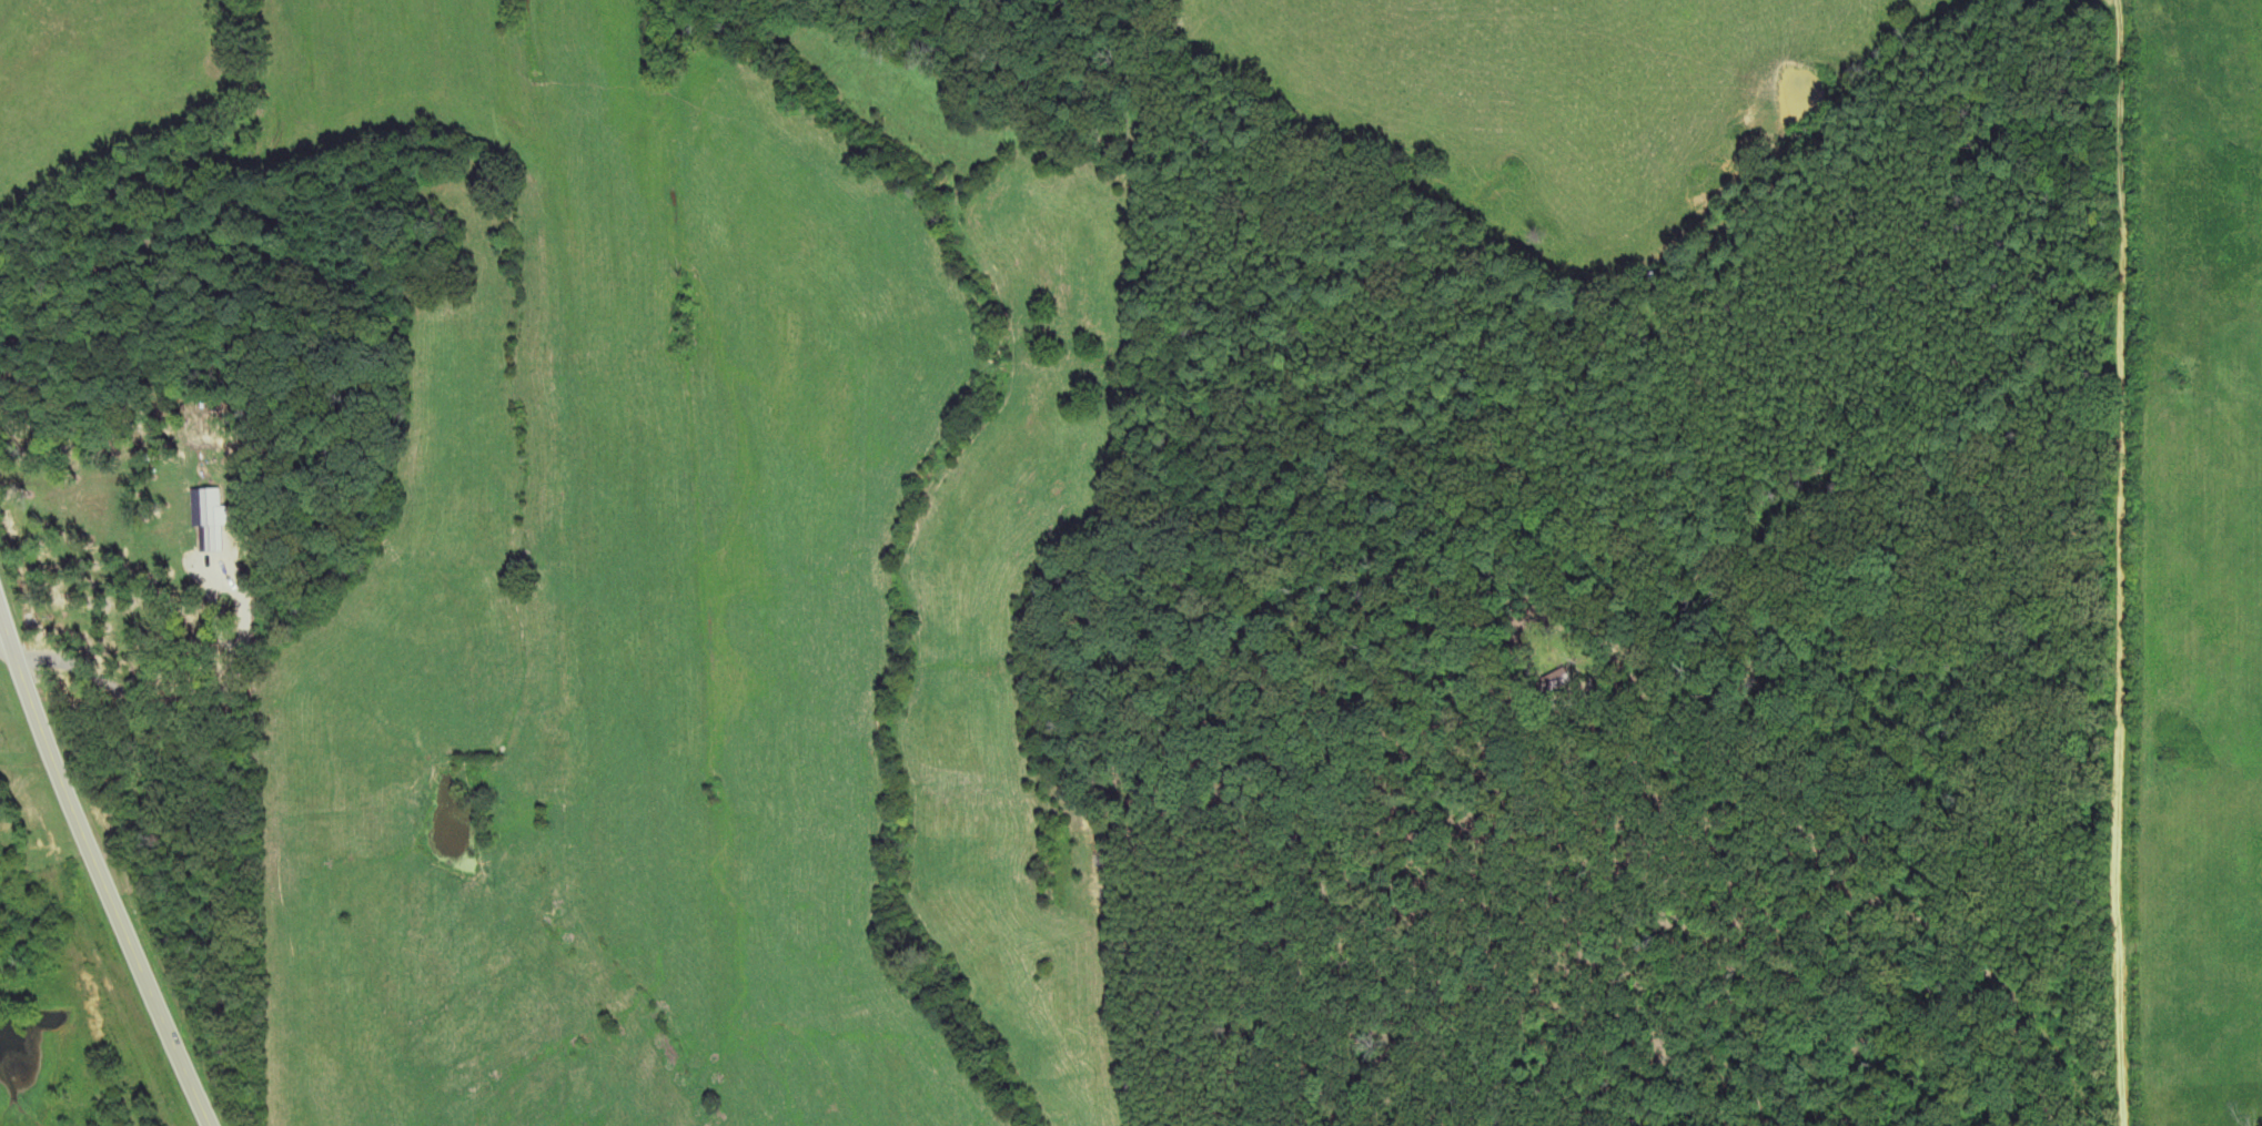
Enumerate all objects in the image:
road: (2139, 562)
road: (7, 649)
road: (95, 869)
building: (17, 884)

